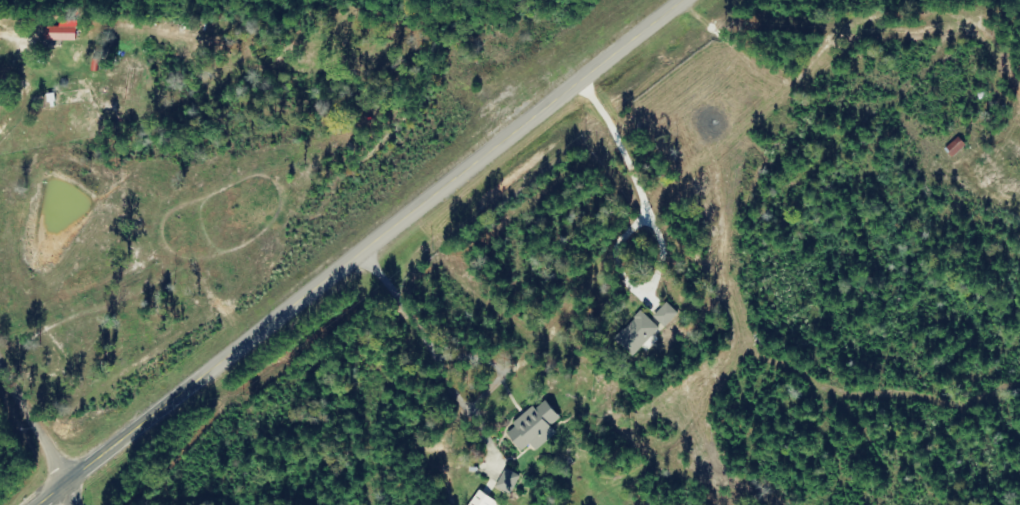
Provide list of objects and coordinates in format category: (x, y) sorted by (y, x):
building: (952, 146)
road: (355, 252)
building: (660, 317)
building: (636, 332)
road: (32, 421)
building: (532, 426)
road: (71, 492)

